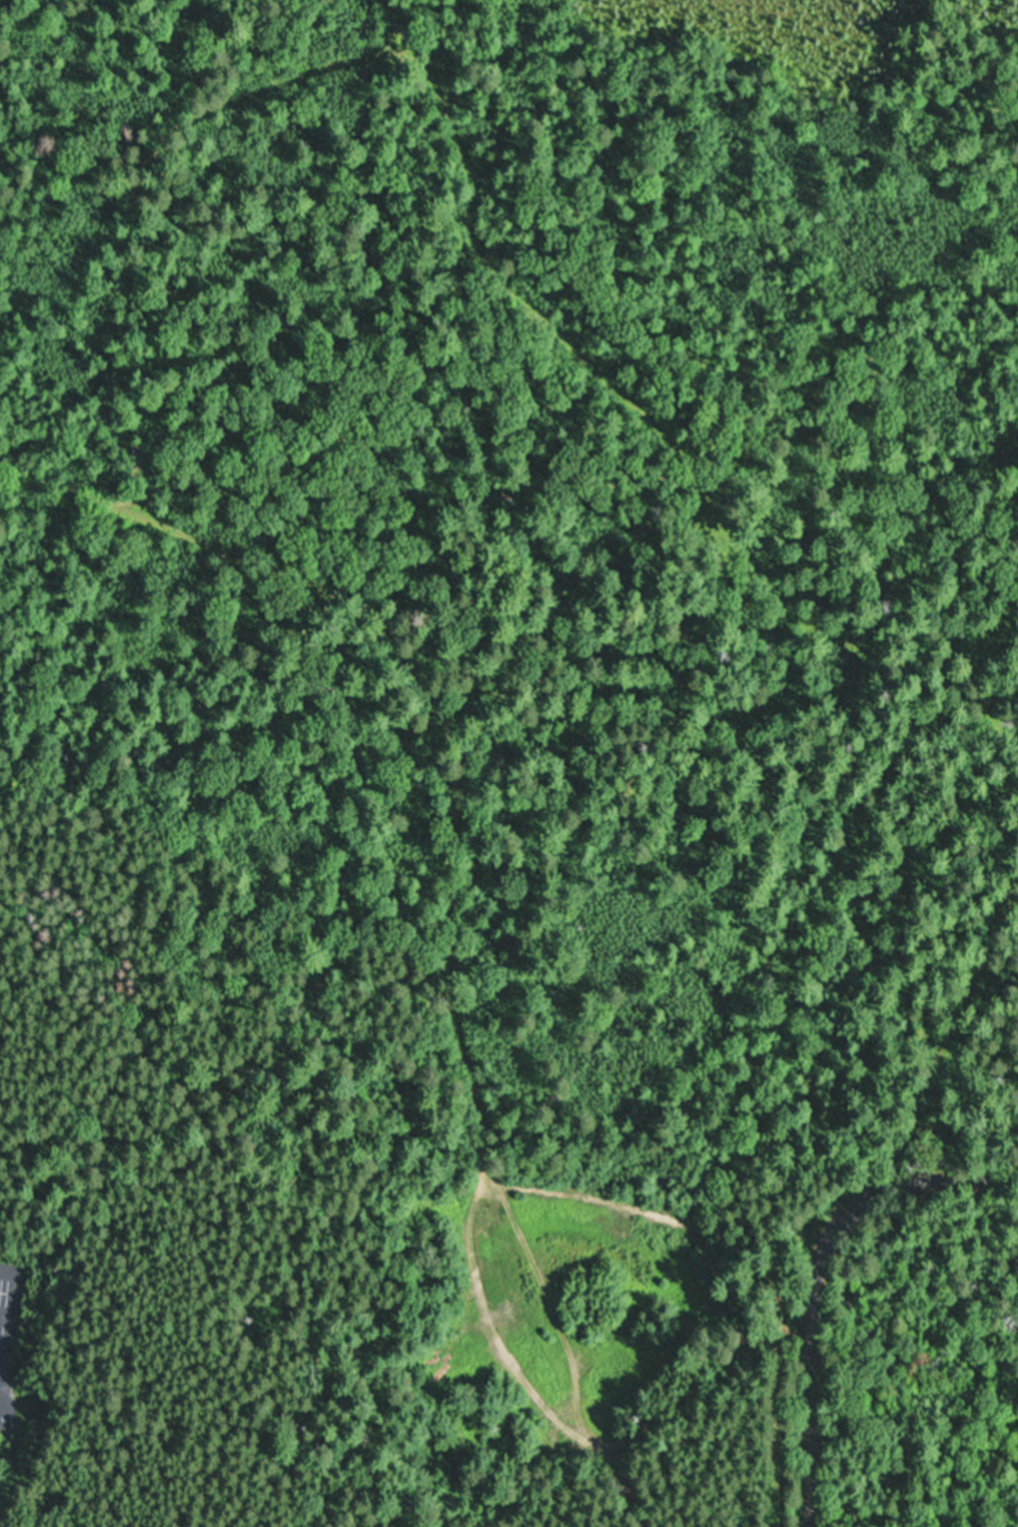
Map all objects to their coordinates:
road: (811, 1262)

